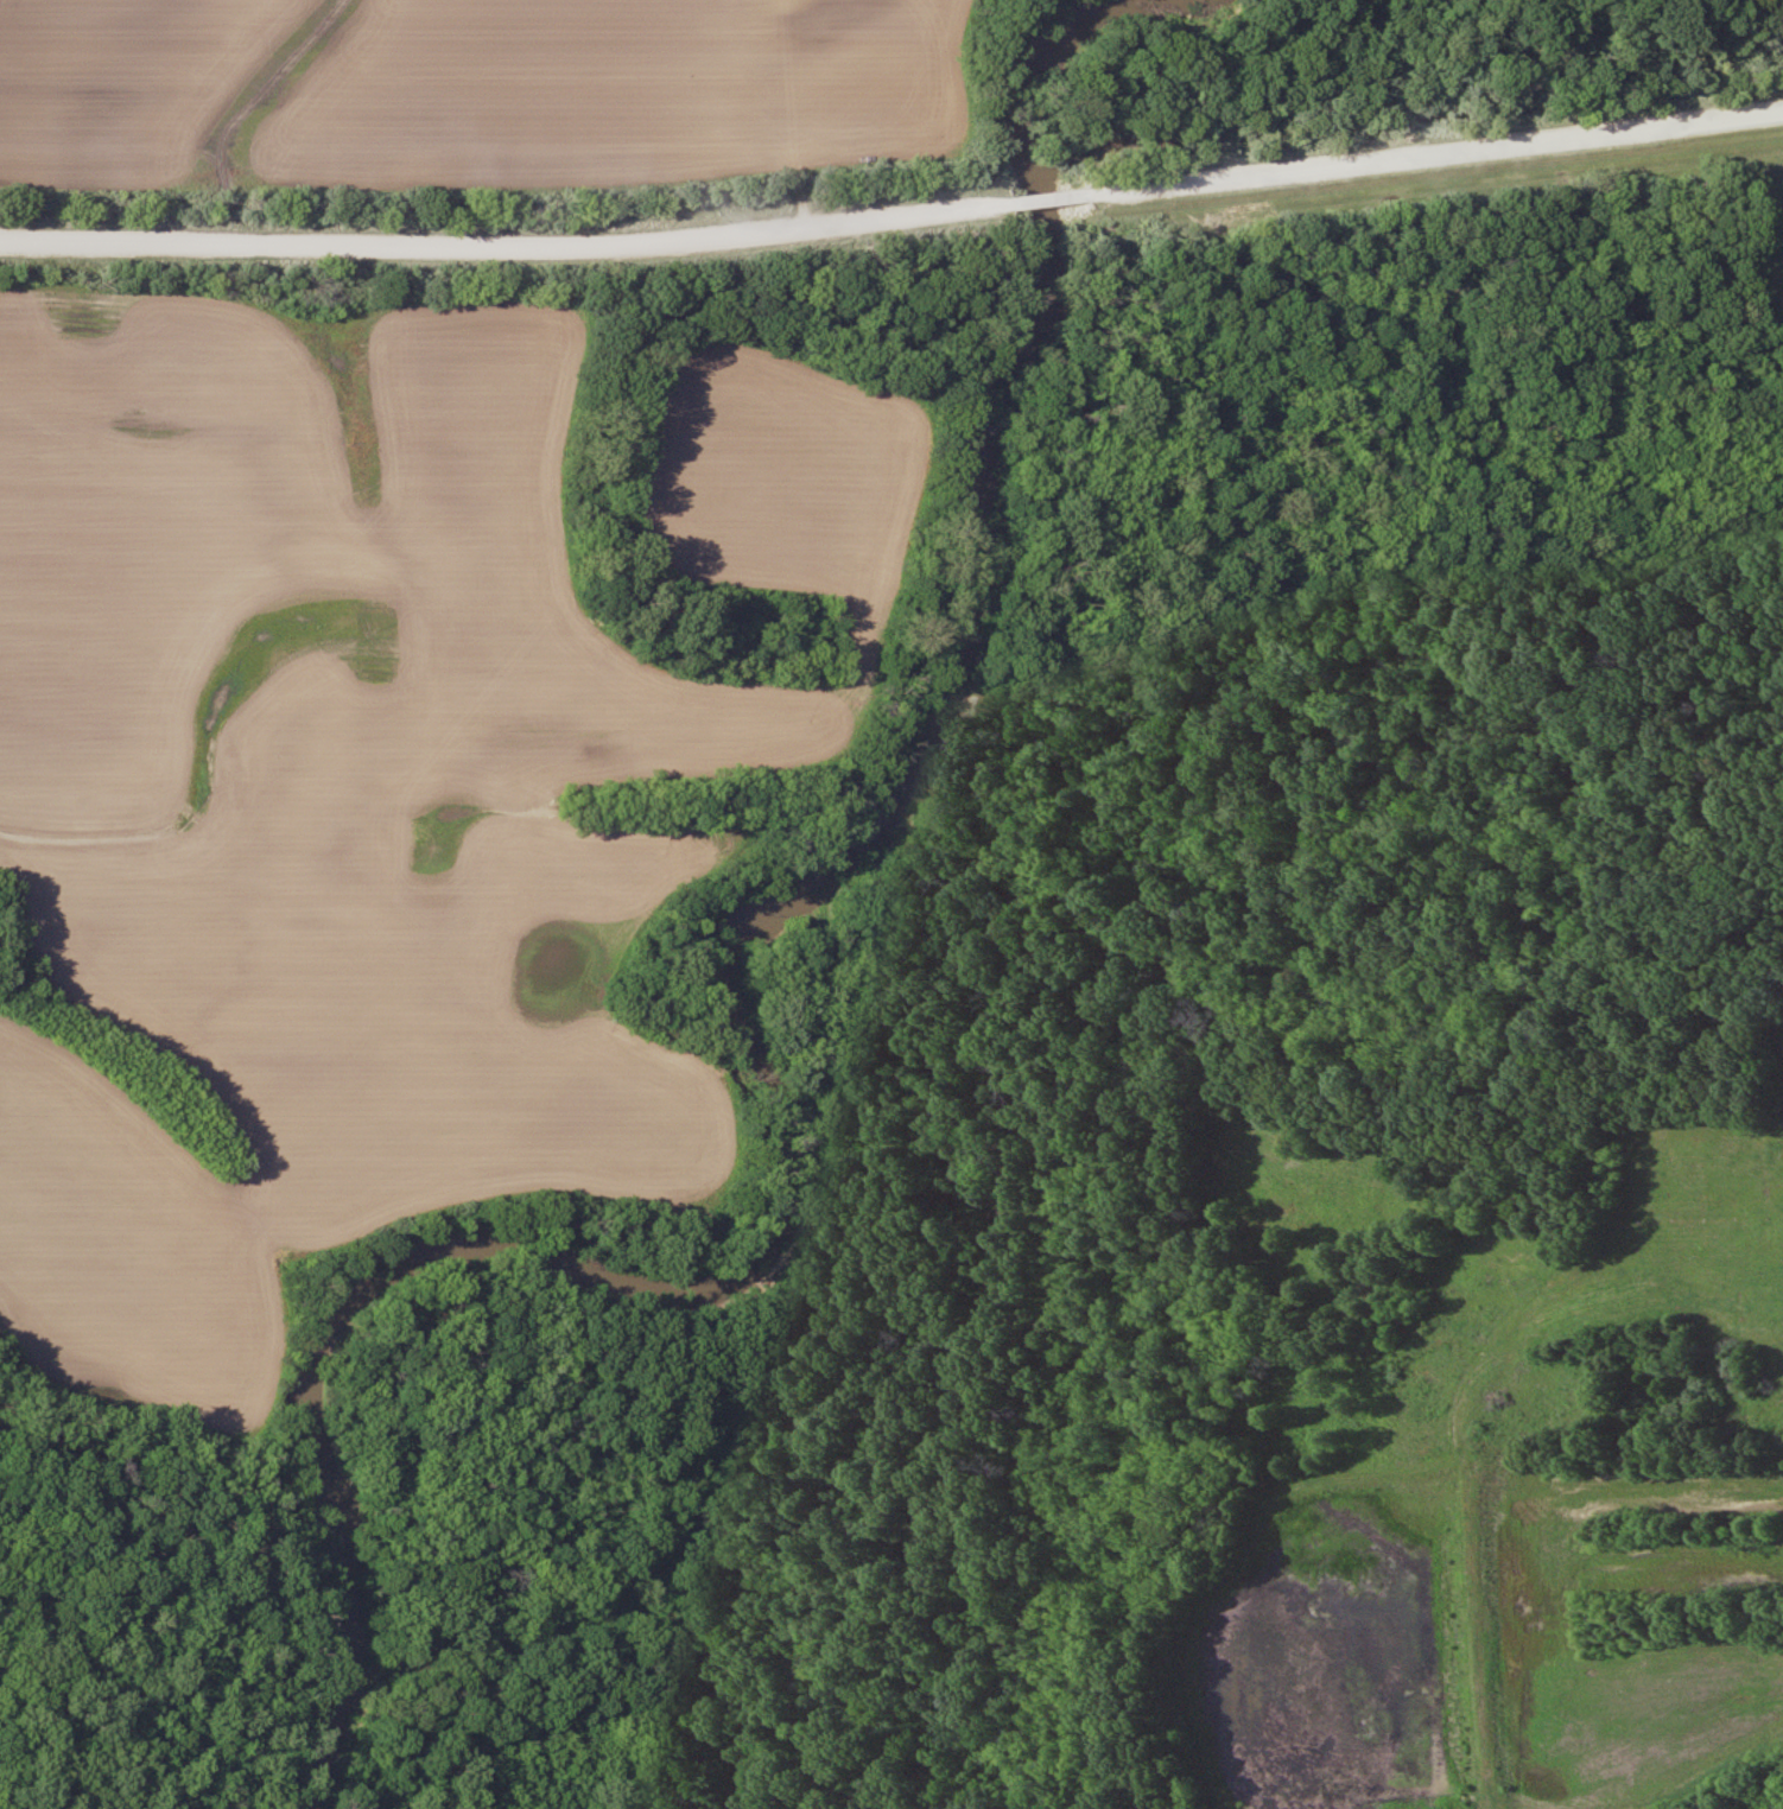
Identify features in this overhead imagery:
river: (1068, 70)
road: (1434, 152)
road: (1028, 199)
river: (1035, 201)
road: (487, 249)
river: (816, 1175)

